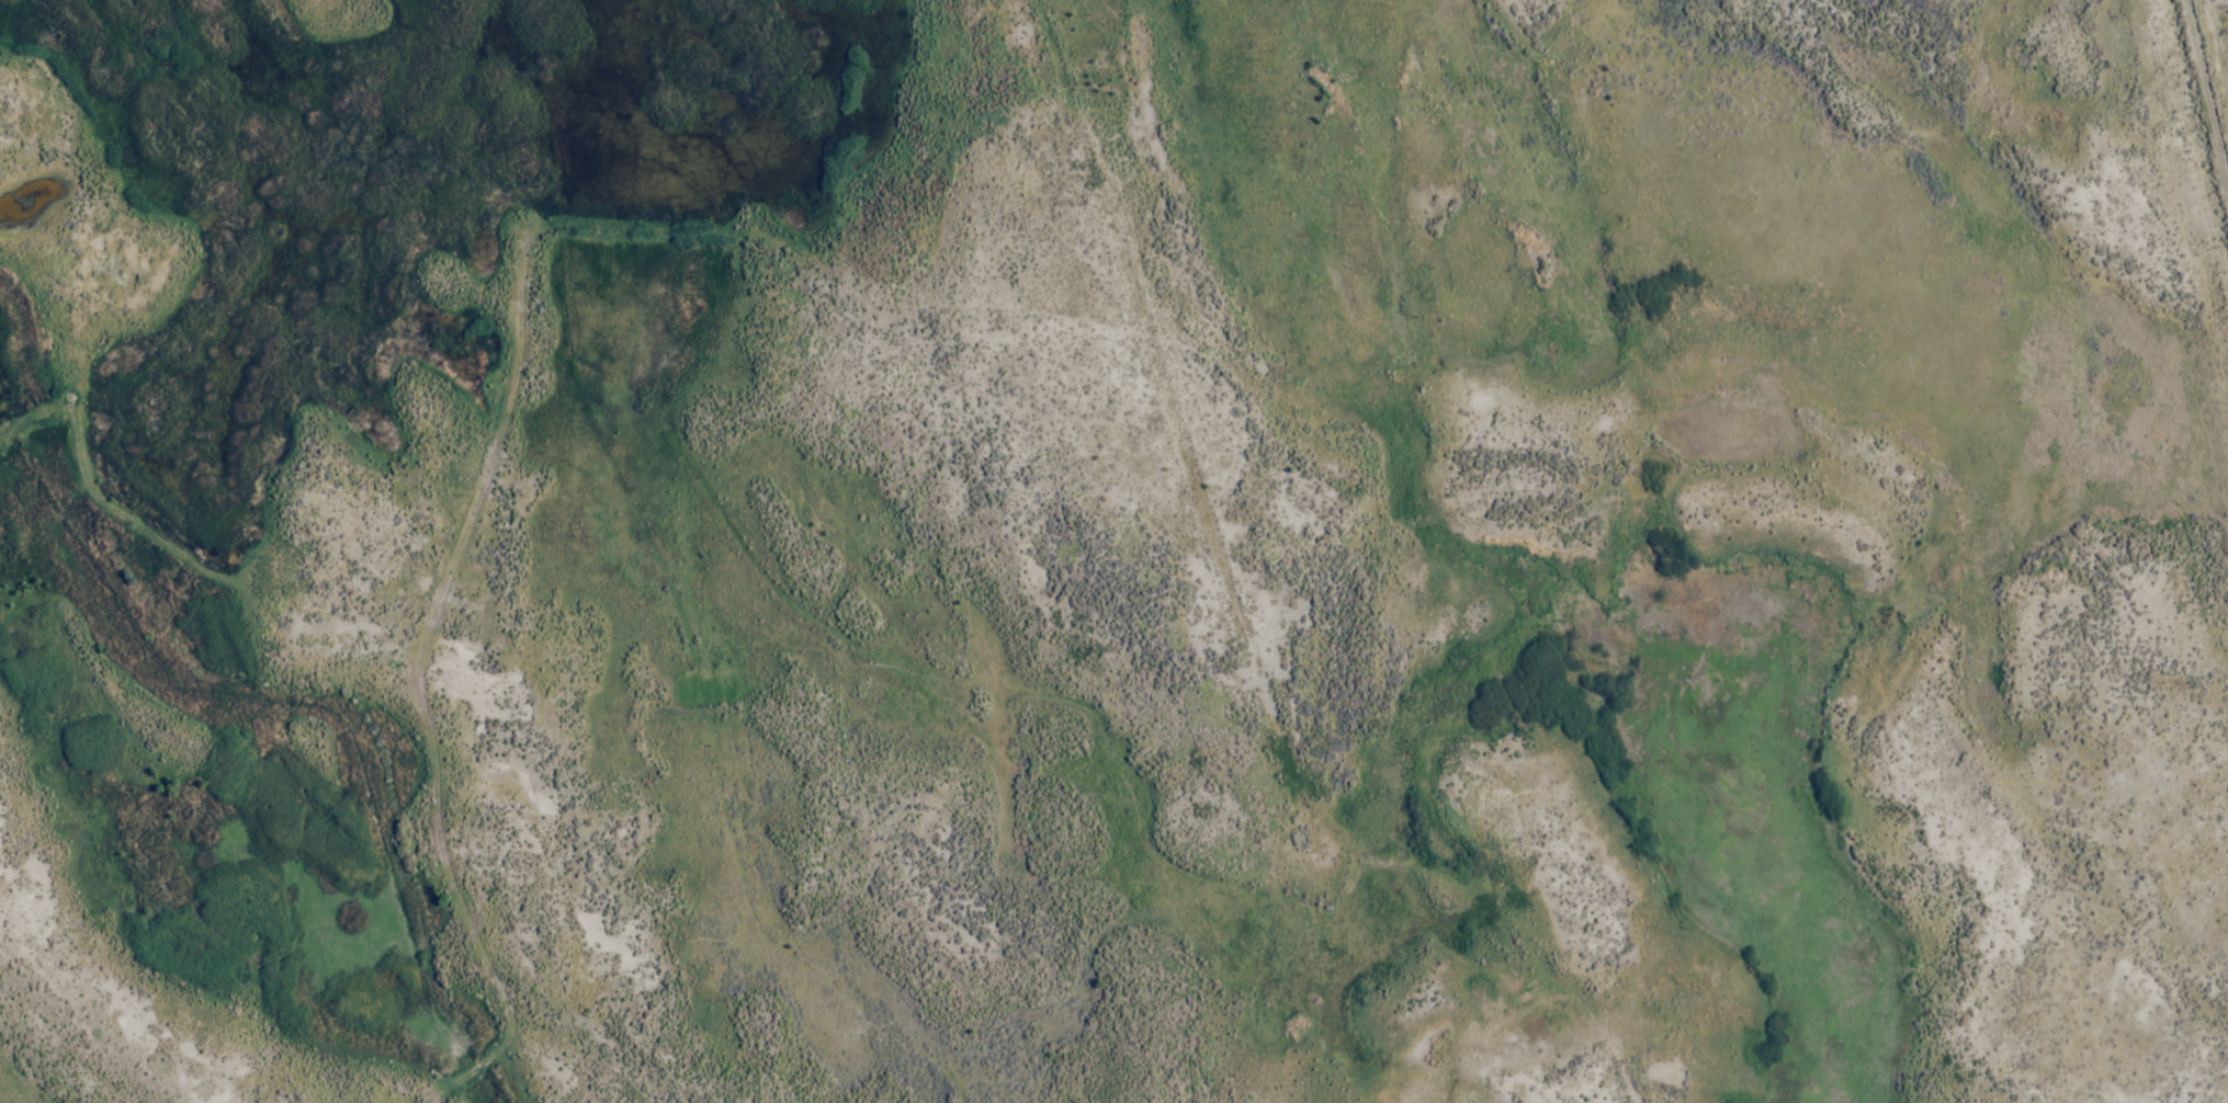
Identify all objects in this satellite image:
road: (2199, 128)
road: (418, 766)

